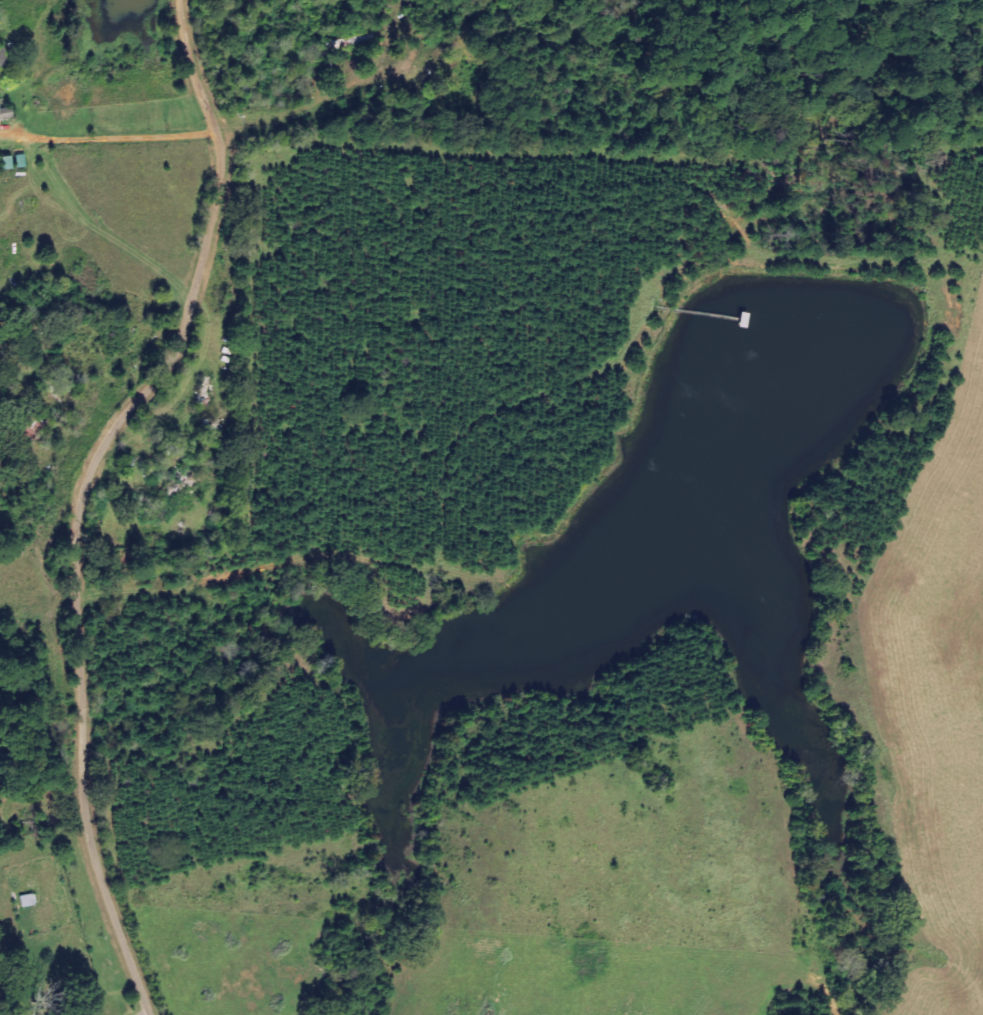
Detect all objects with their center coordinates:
building: (4, 113)
road: (82, 376)
road: (96, 499)

